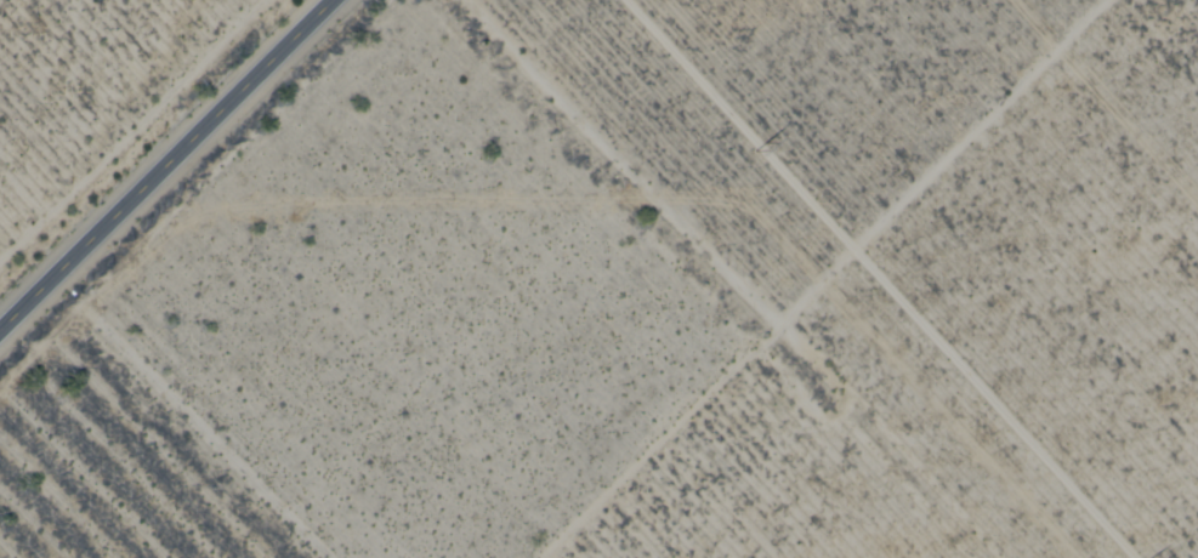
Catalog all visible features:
power tower: (776, 138)
road: (164, 163)
power tower: (1151, 556)

